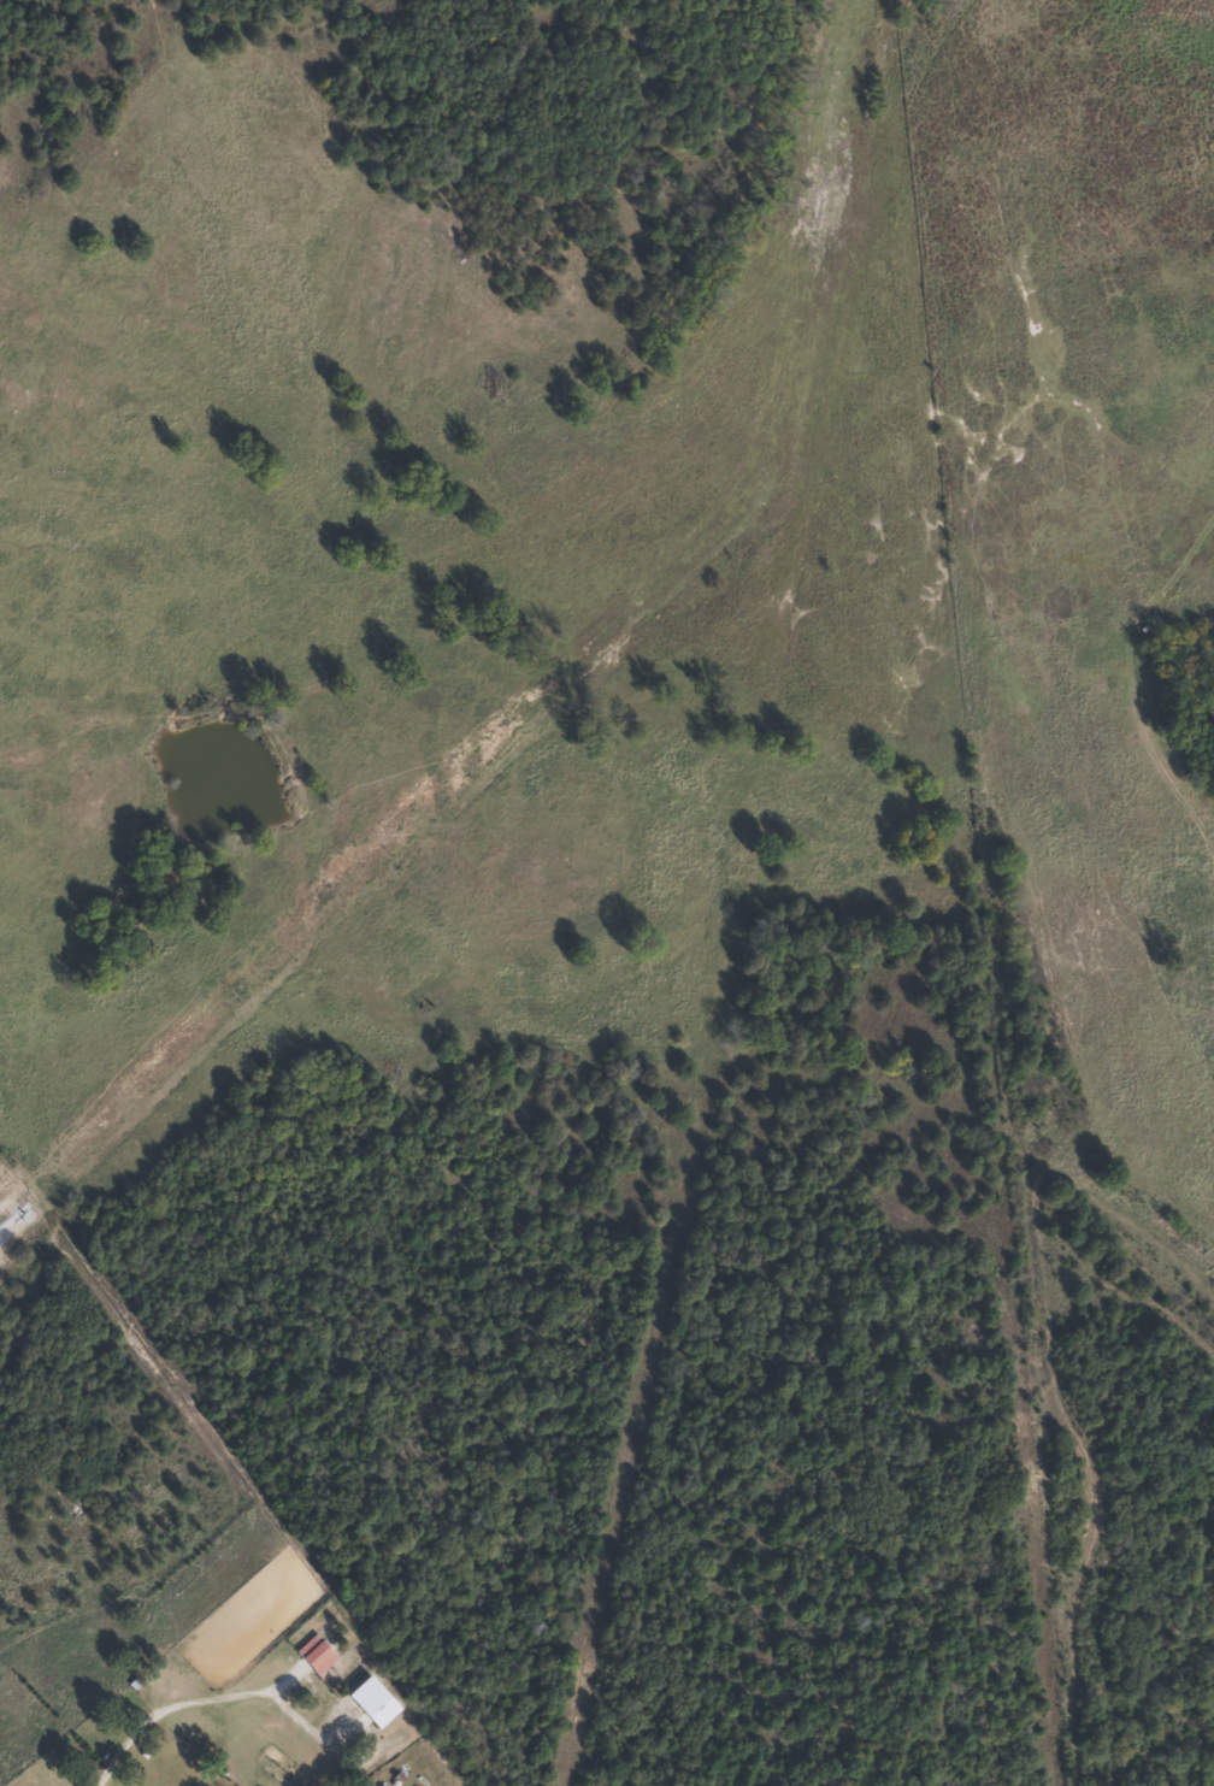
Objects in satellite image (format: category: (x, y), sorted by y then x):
building: (314, 1666)
road: (232, 1773)

